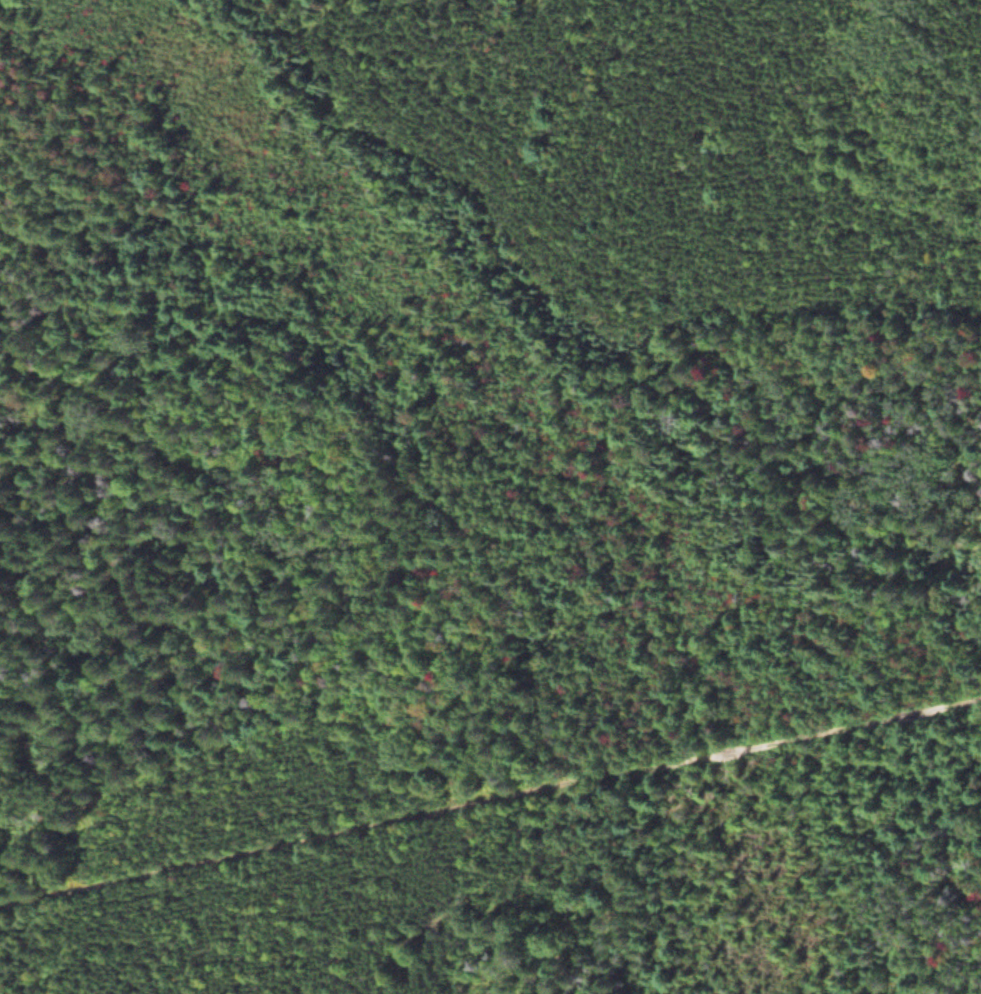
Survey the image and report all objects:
road: (490, 803)

